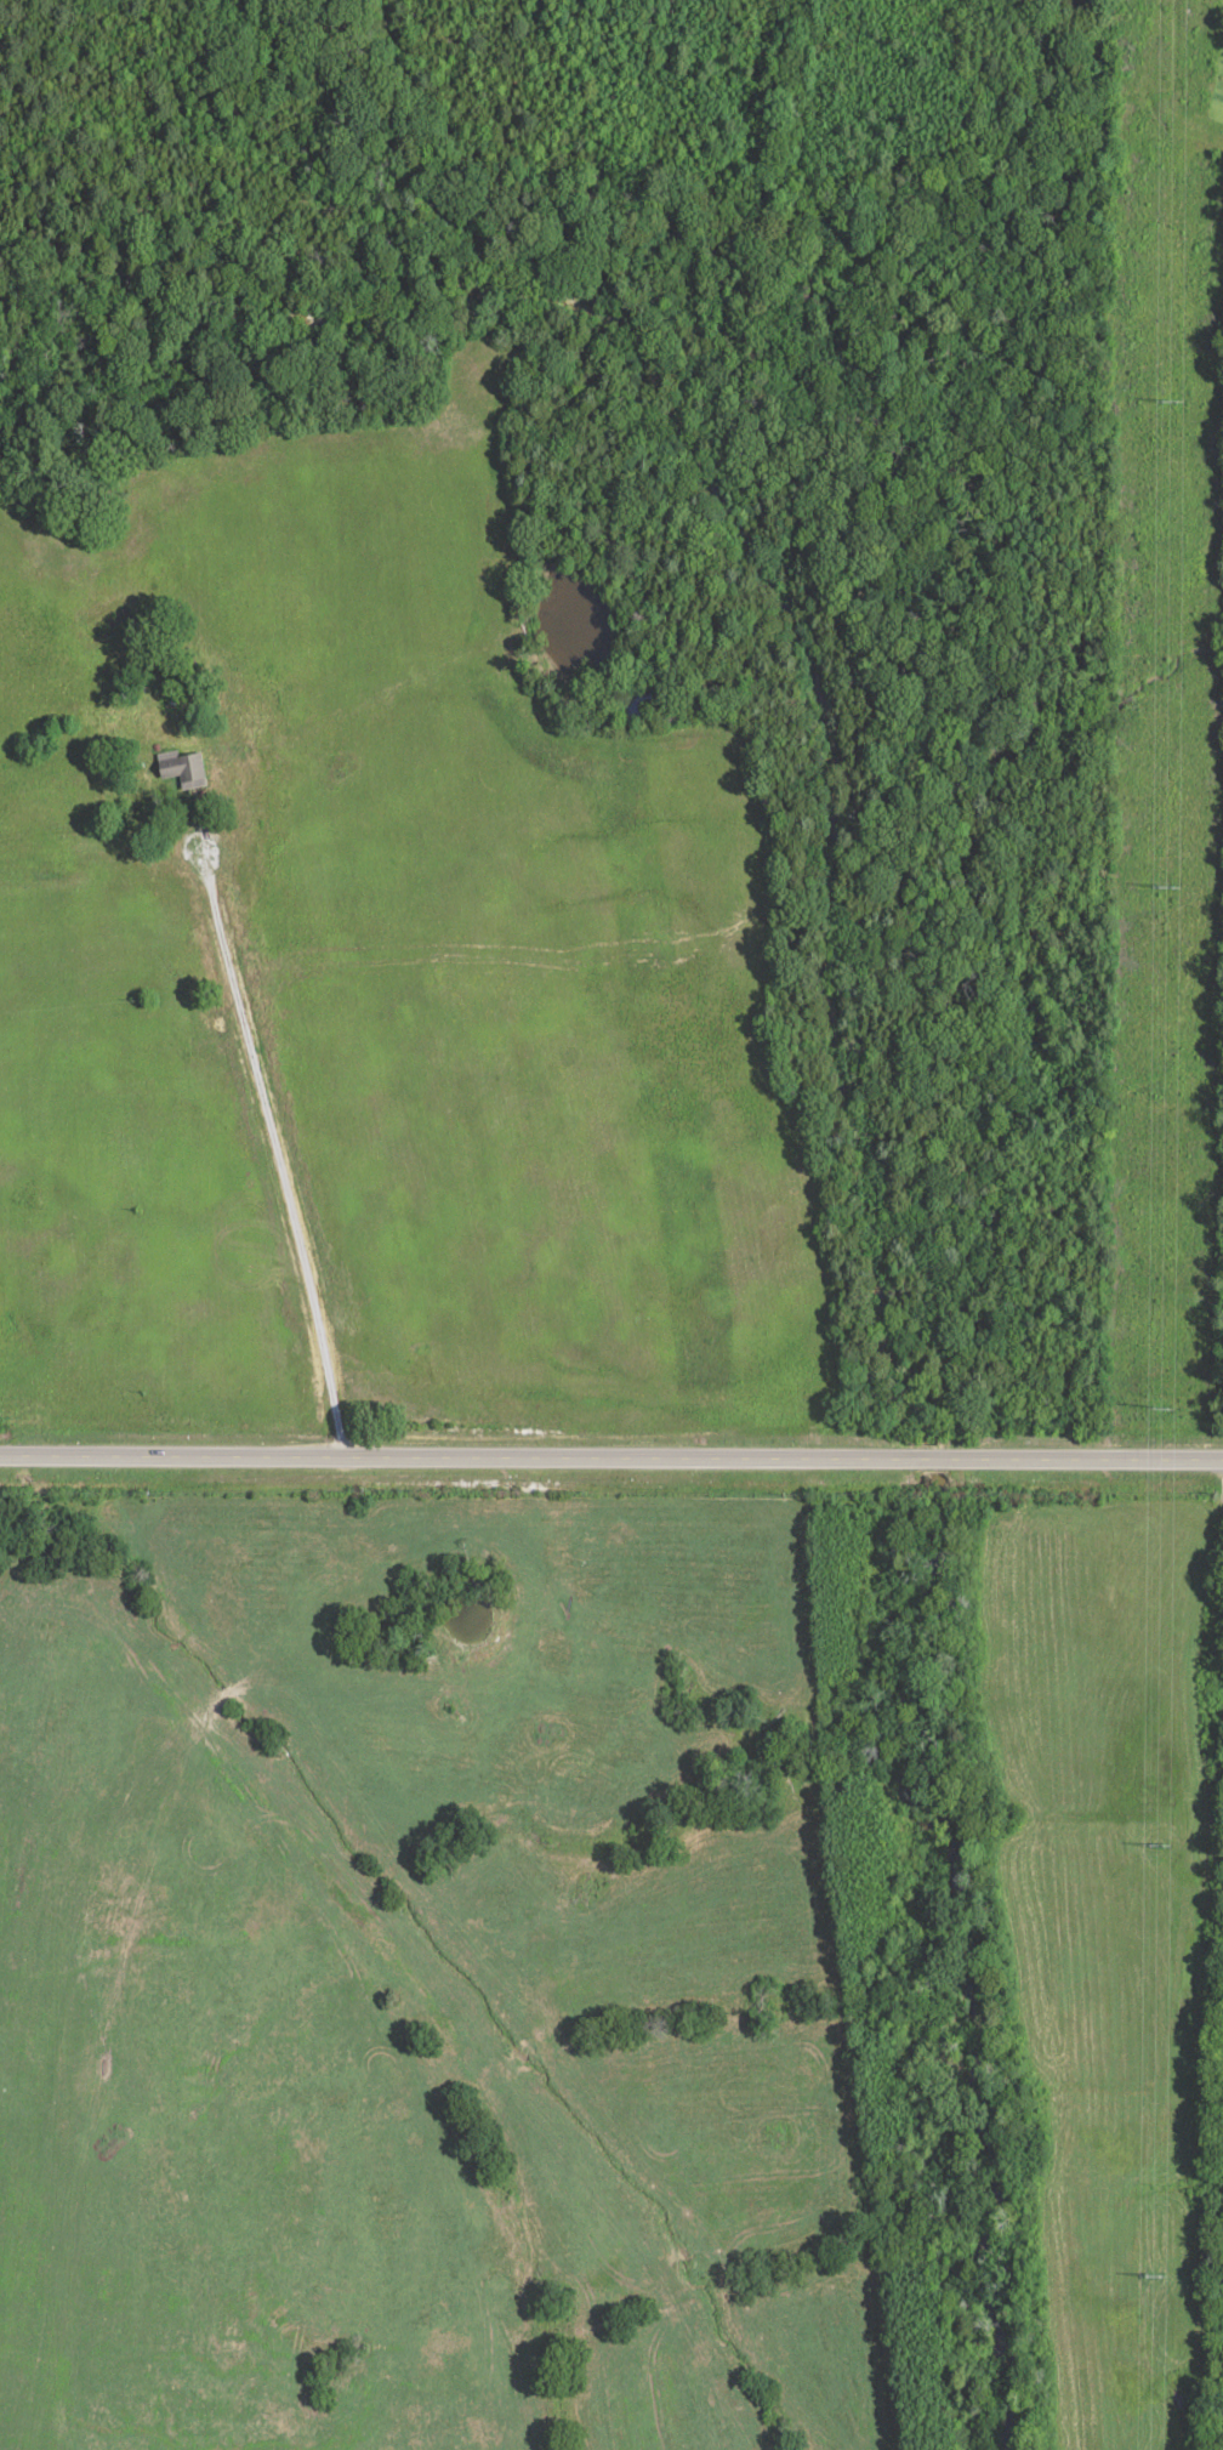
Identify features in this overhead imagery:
road: (1219, 143)
power tower: (1162, 403)
building: (184, 772)
power tower: (1159, 892)
road: (261, 1129)
power tower: (1154, 1404)
road: (611, 1454)
power tower: (1150, 1846)
power tower: (1145, 2268)

